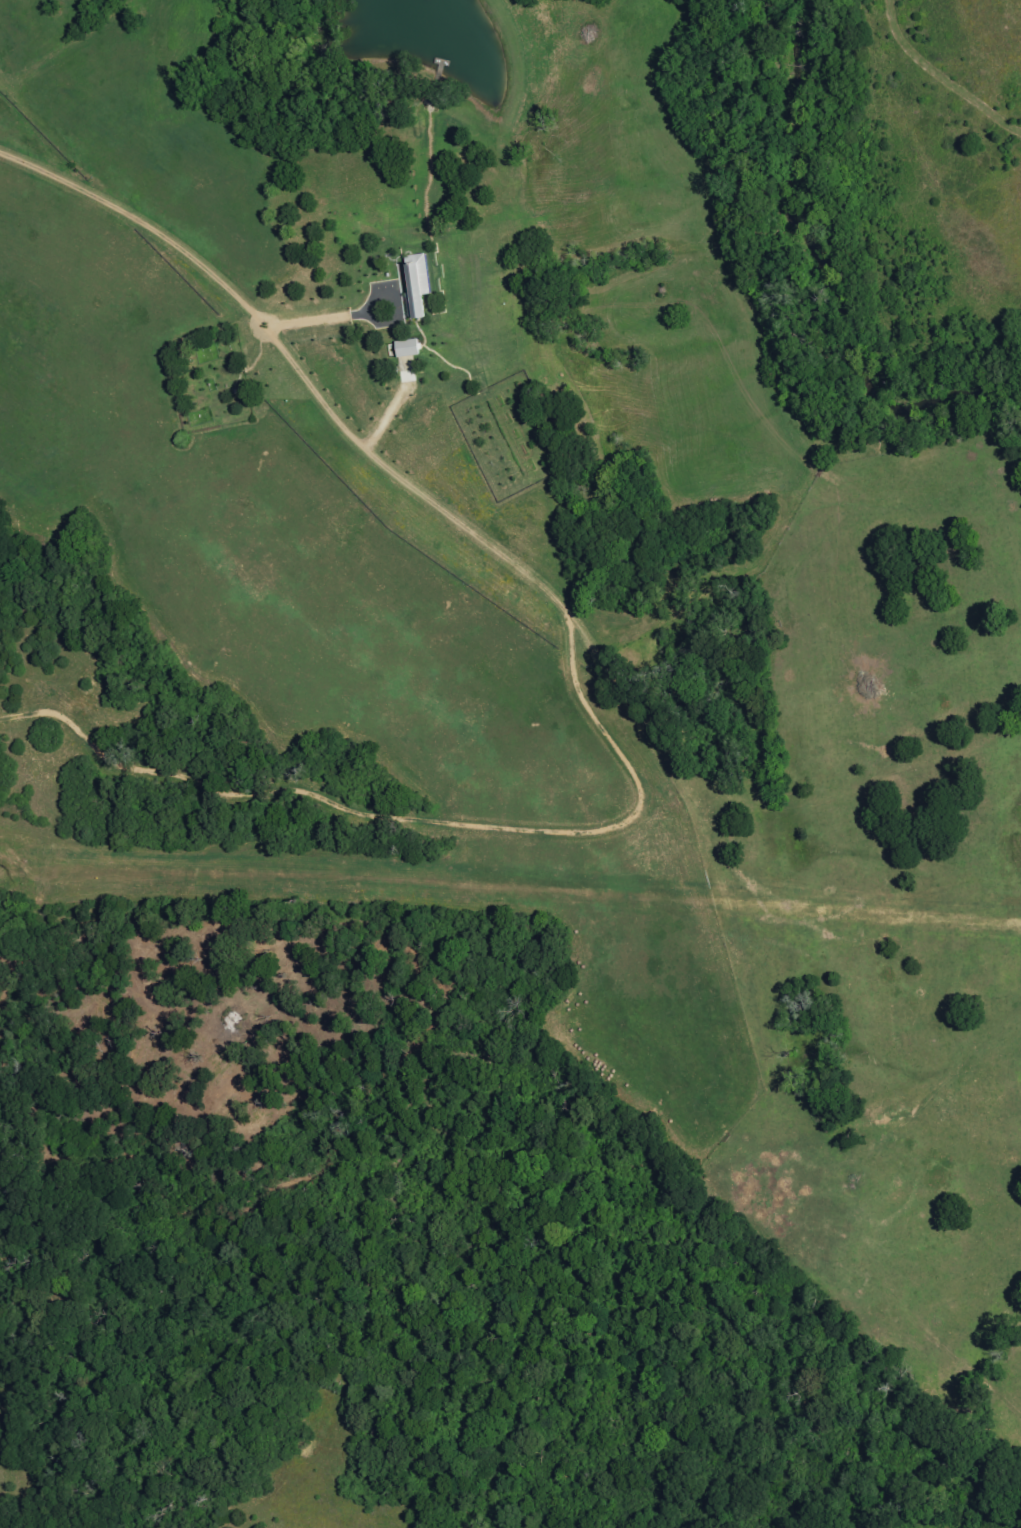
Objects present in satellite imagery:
building: (417, 286)
building: (408, 349)
park: (207, 382)

